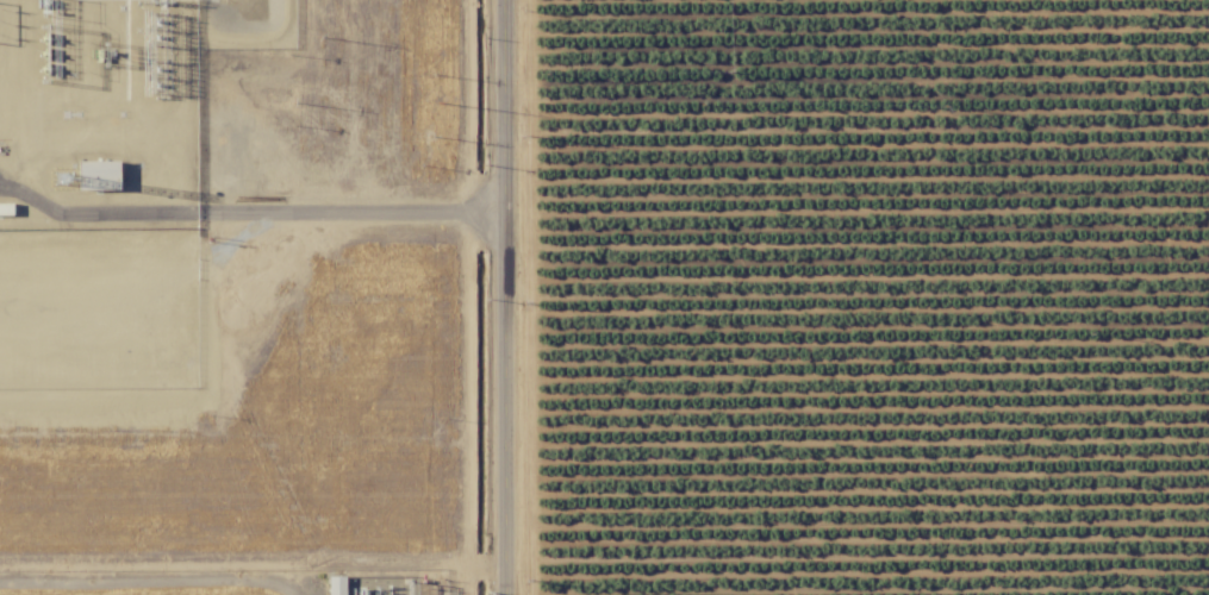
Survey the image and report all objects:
building: (96, 174)
building: (5, 208)
road: (519, 296)
crop: (859, 296)
road: (481, 569)
crop: (235, 582)
road: (149, 584)
building: (335, 584)

